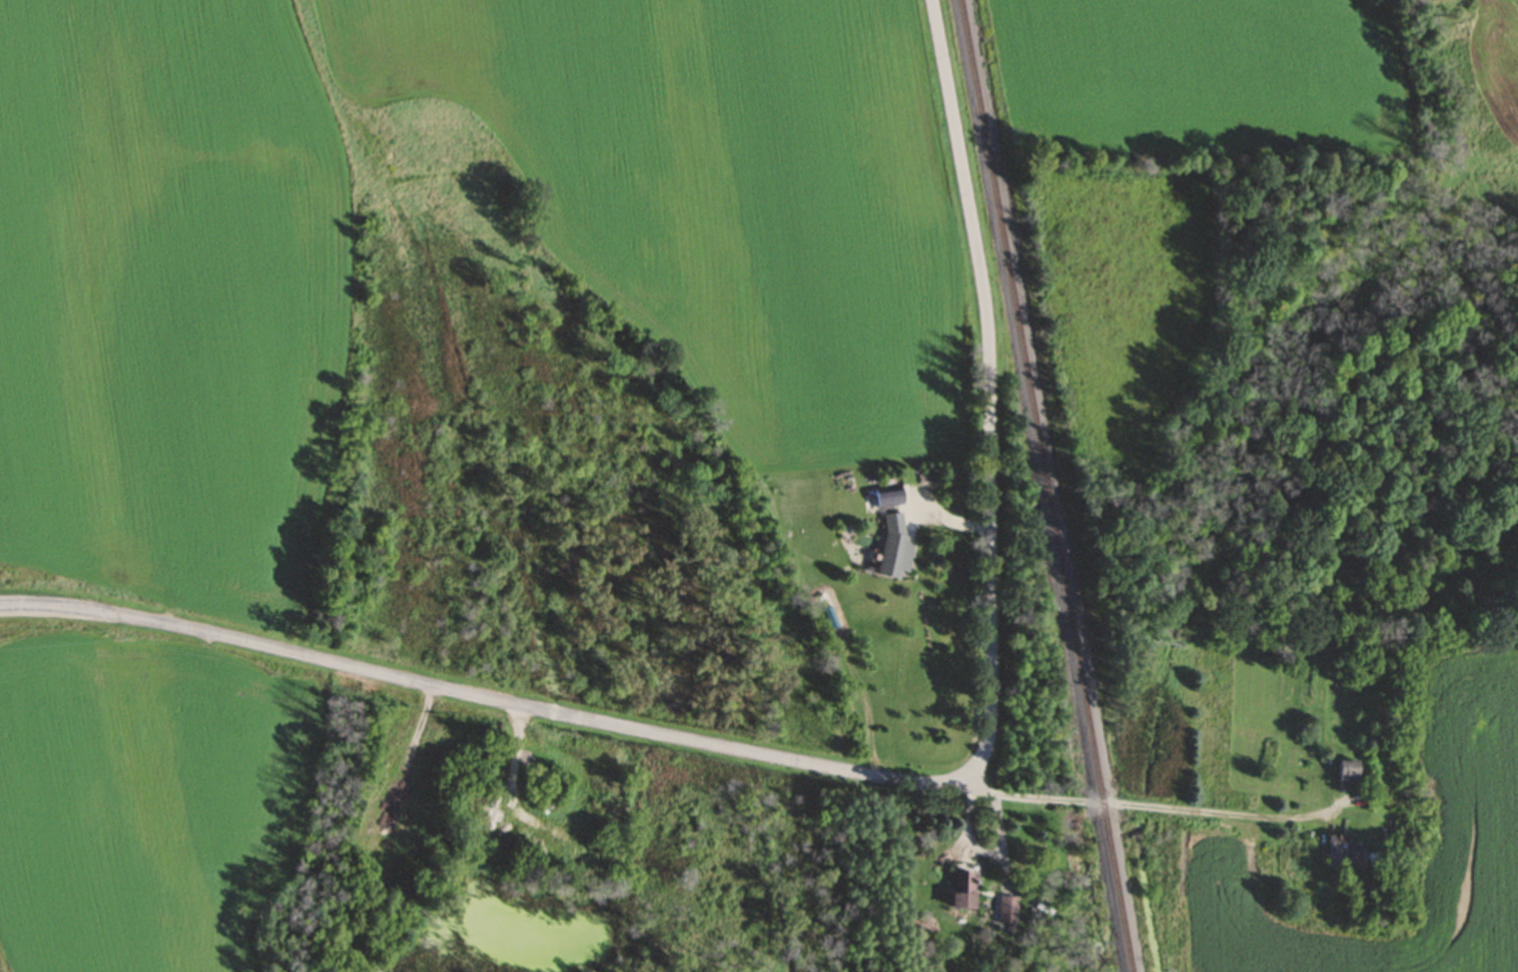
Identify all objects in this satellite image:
railway: (1048, 486)
building: (882, 500)
building: (889, 550)
building: (1340, 773)
road: (870, 774)
road: (1146, 809)
building: (1338, 858)
building: (958, 892)
building: (1007, 913)

